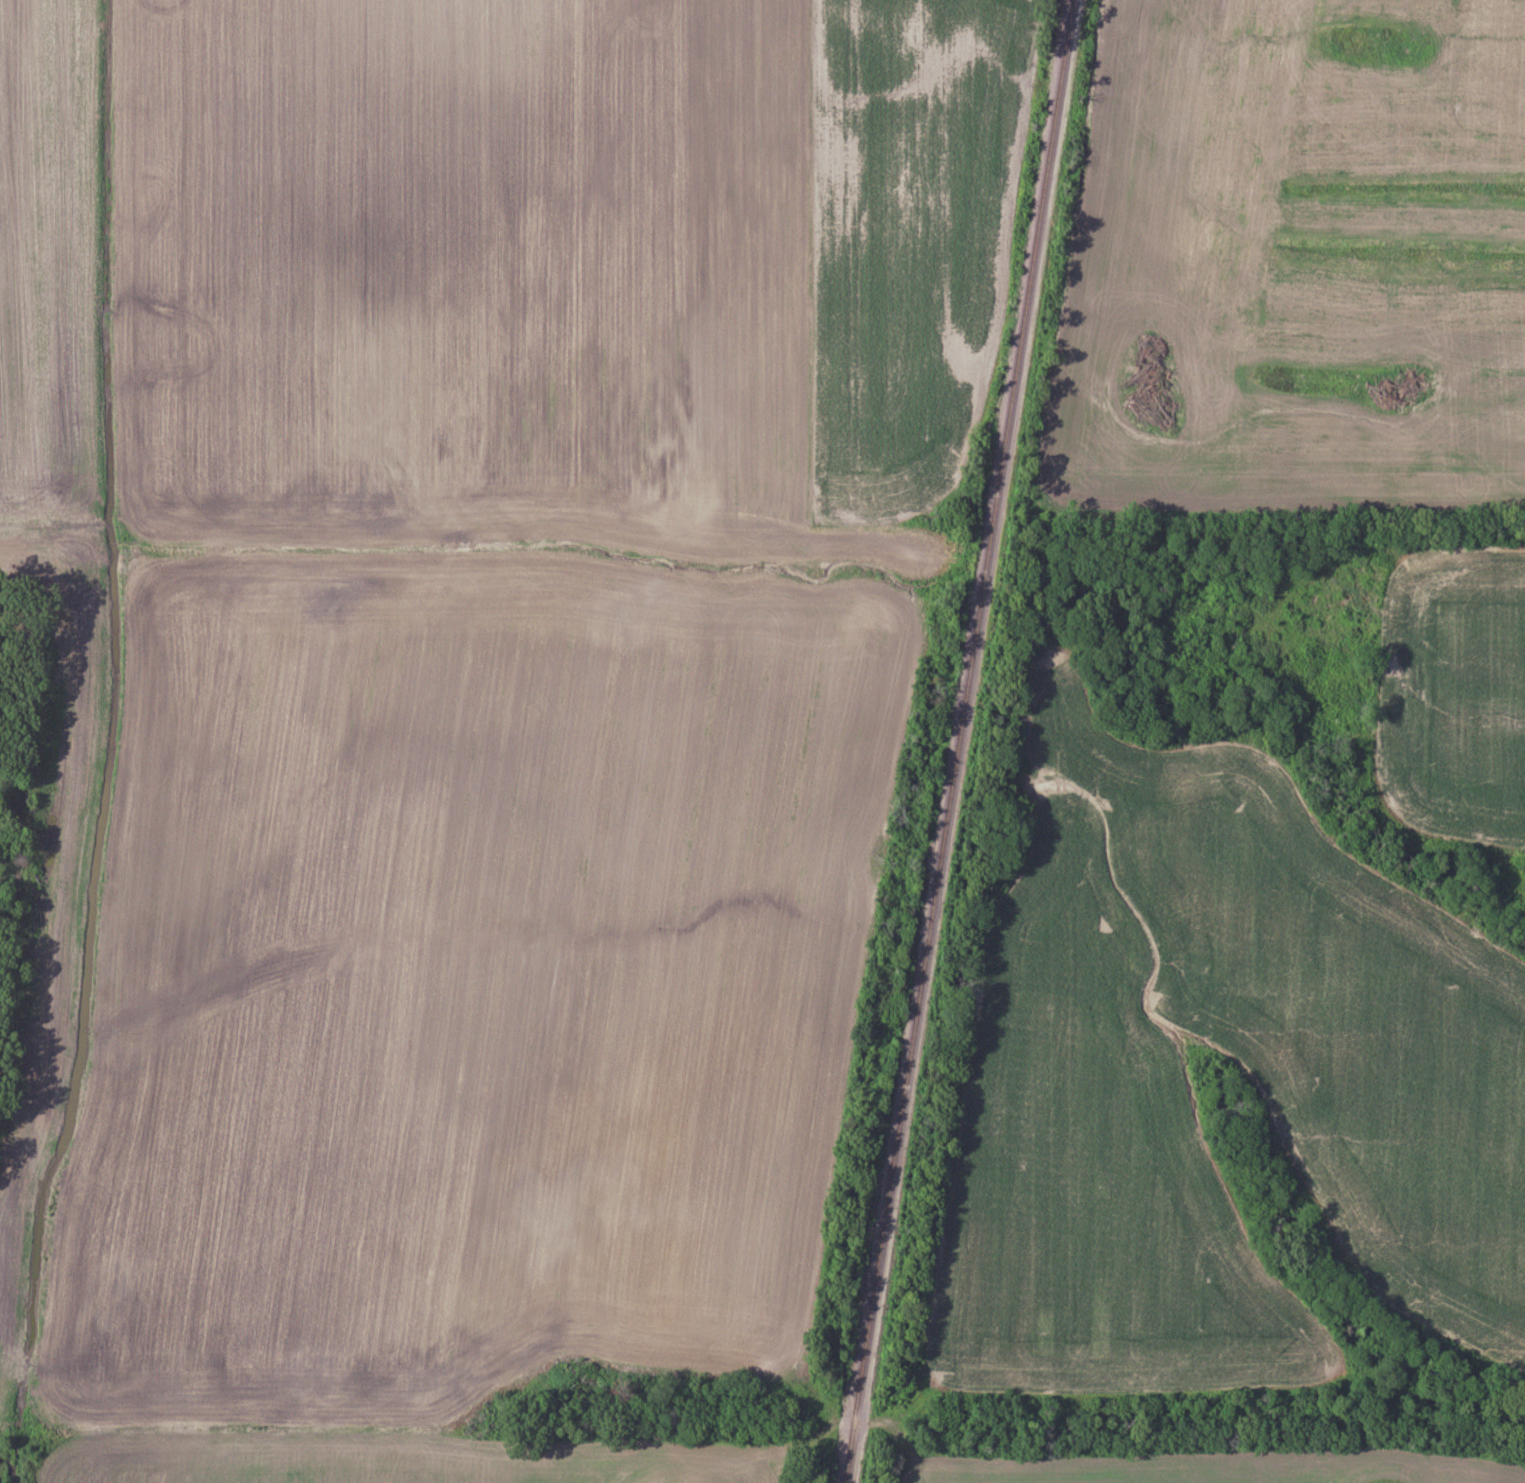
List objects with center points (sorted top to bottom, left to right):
road: (106, 254)
railway: (977, 742)

